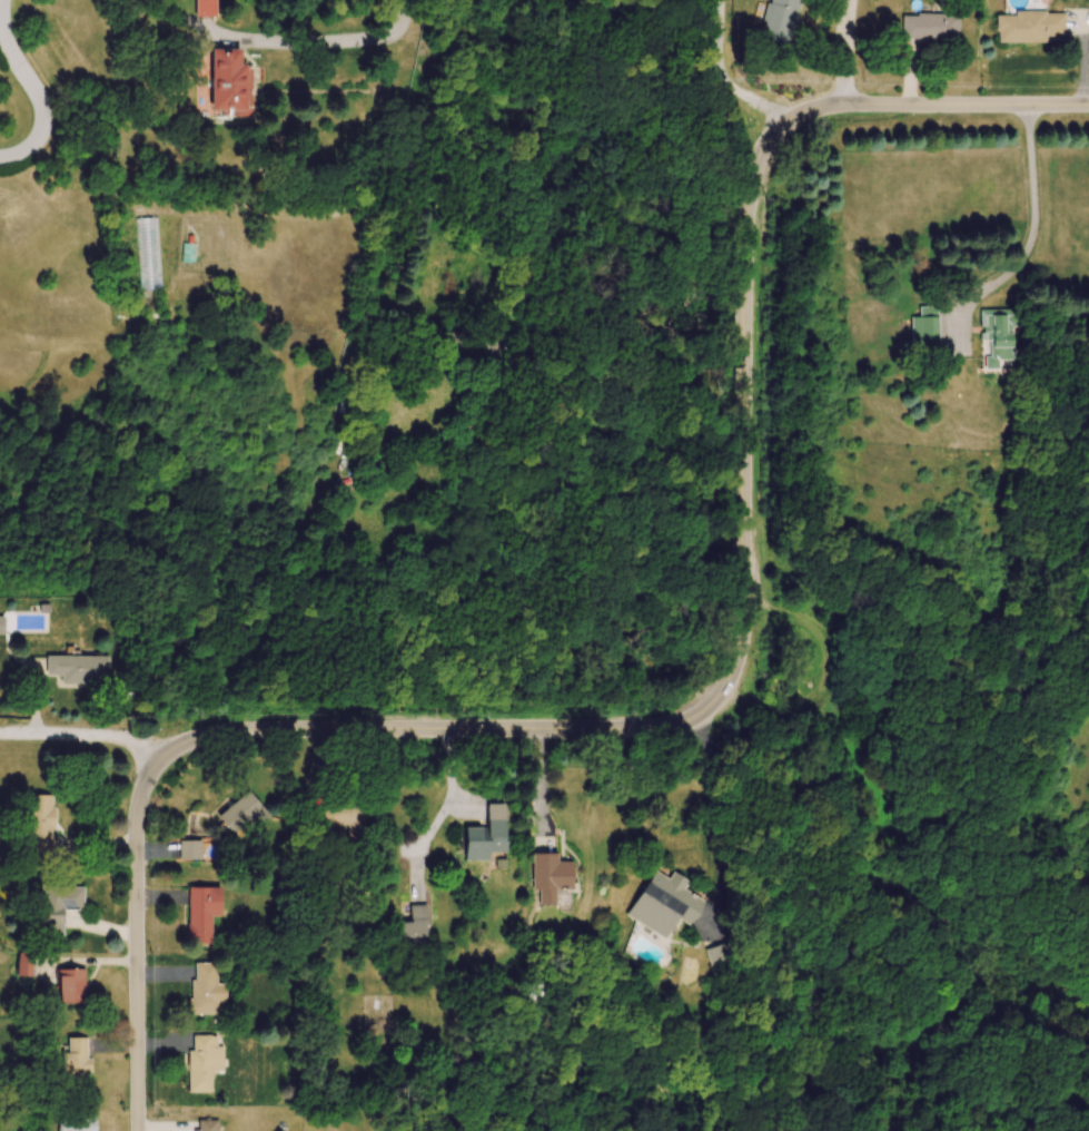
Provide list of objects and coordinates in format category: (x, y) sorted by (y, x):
building: (206, 9)
building: (780, 23)
building: (931, 28)
building: (1031, 28)
road: (289, 40)
road: (847, 52)
road: (724, 78)
building: (226, 85)
road: (36, 88)
road: (1024, 235)
building: (149, 258)
building: (927, 335)
building: (1001, 341)
building: (485, 348)
building: (2, 627)
building: (80, 671)
road: (697, 716)
road: (88, 735)
road: (541, 786)
road: (462, 806)
road: (719, 810)
building: (244, 813)
road: (438, 815)
building: (40, 826)
building: (488, 838)
building: (191, 849)
building: (552, 877)
building: (667, 903)
building: (58, 906)
building: (202, 913)
building: (413, 932)
building: (723, 957)
building: (72, 985)
building: (205, 989)
building: (77, 1060)
building: (205, 1062)
building: (78, 1123)
building: (206, 1124)

